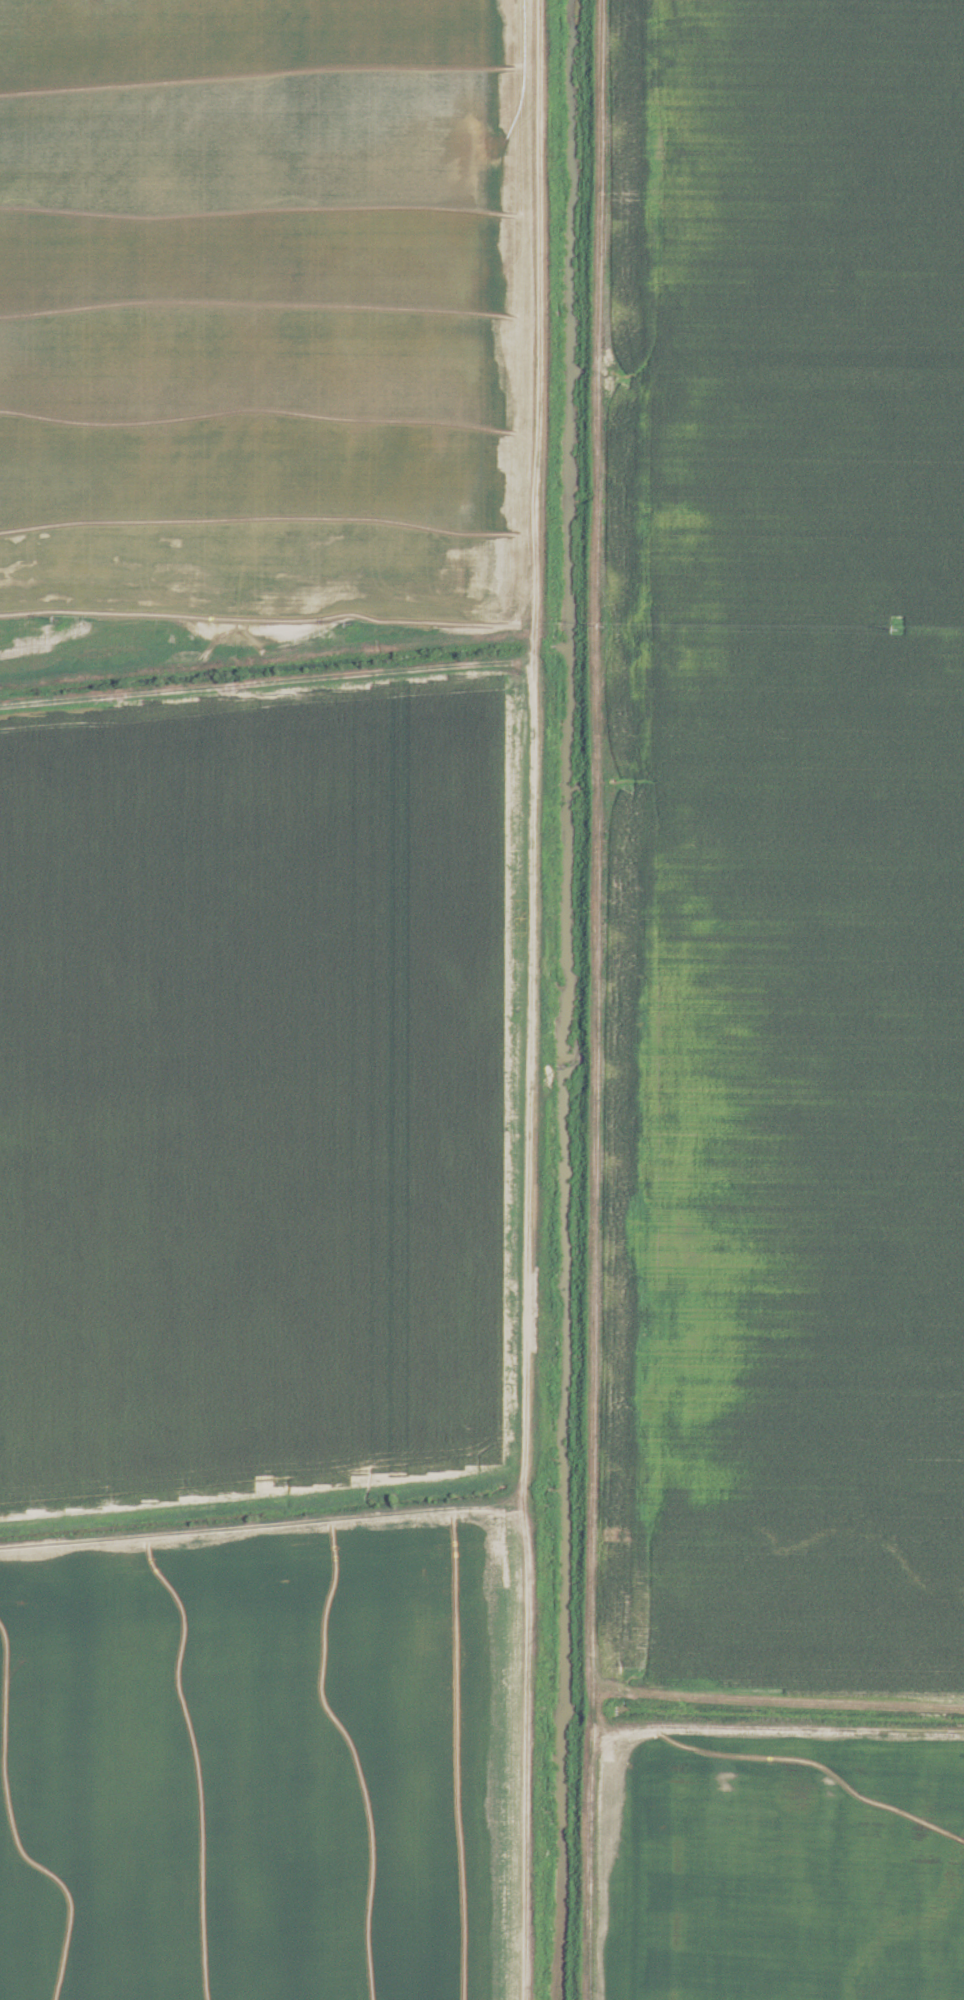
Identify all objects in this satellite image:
road: (536, 1013)

